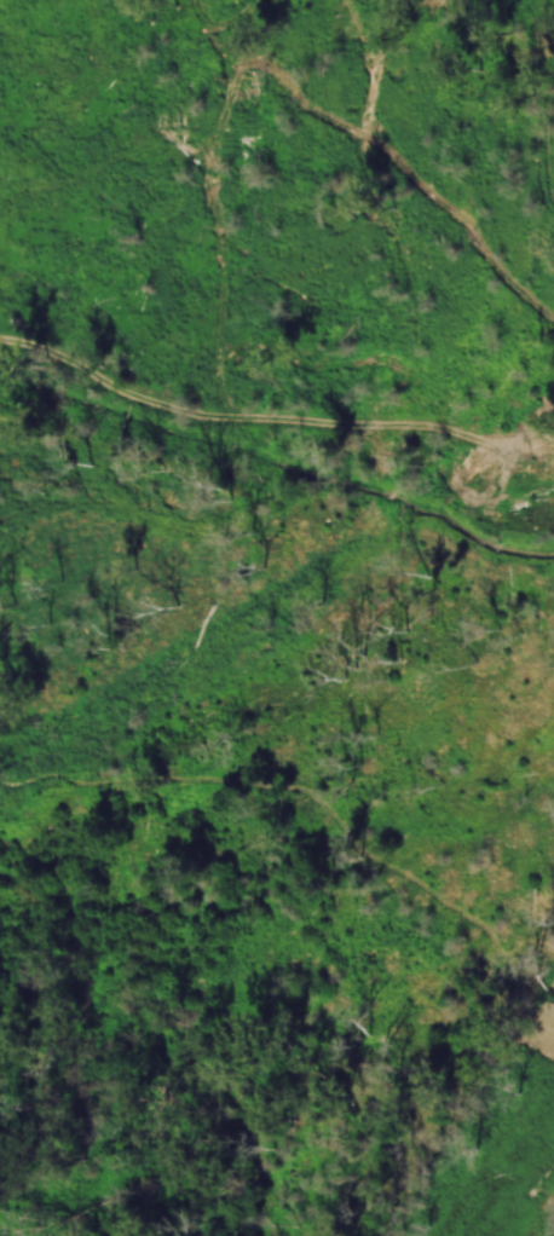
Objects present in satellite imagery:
park: (230, 1199)

